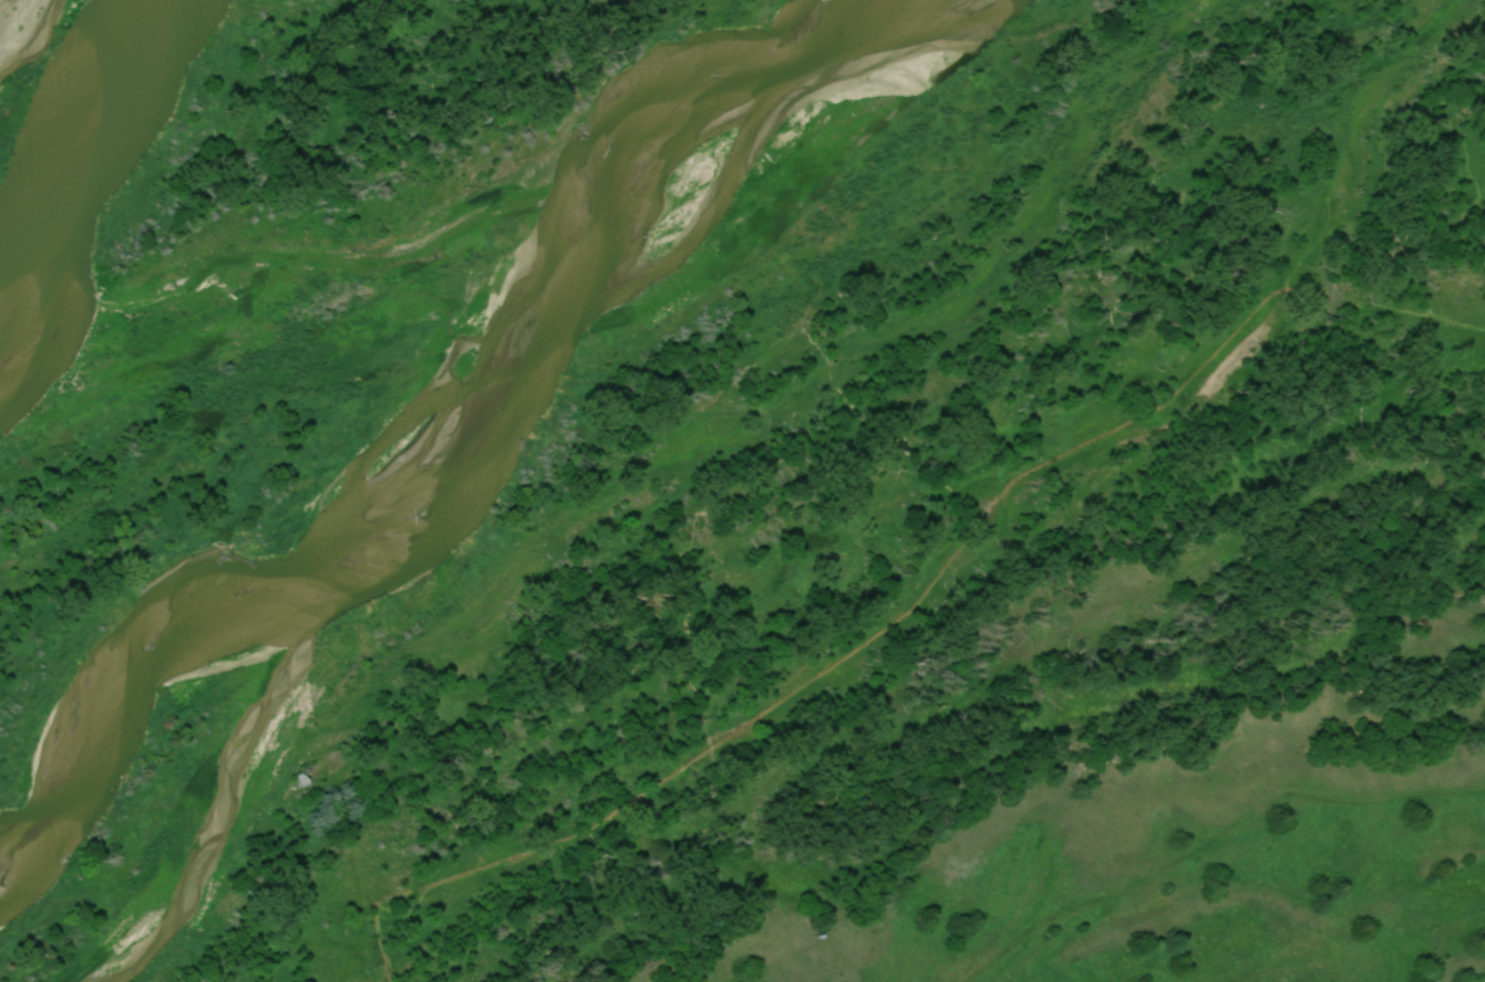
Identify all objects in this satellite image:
river: (88, 158)

